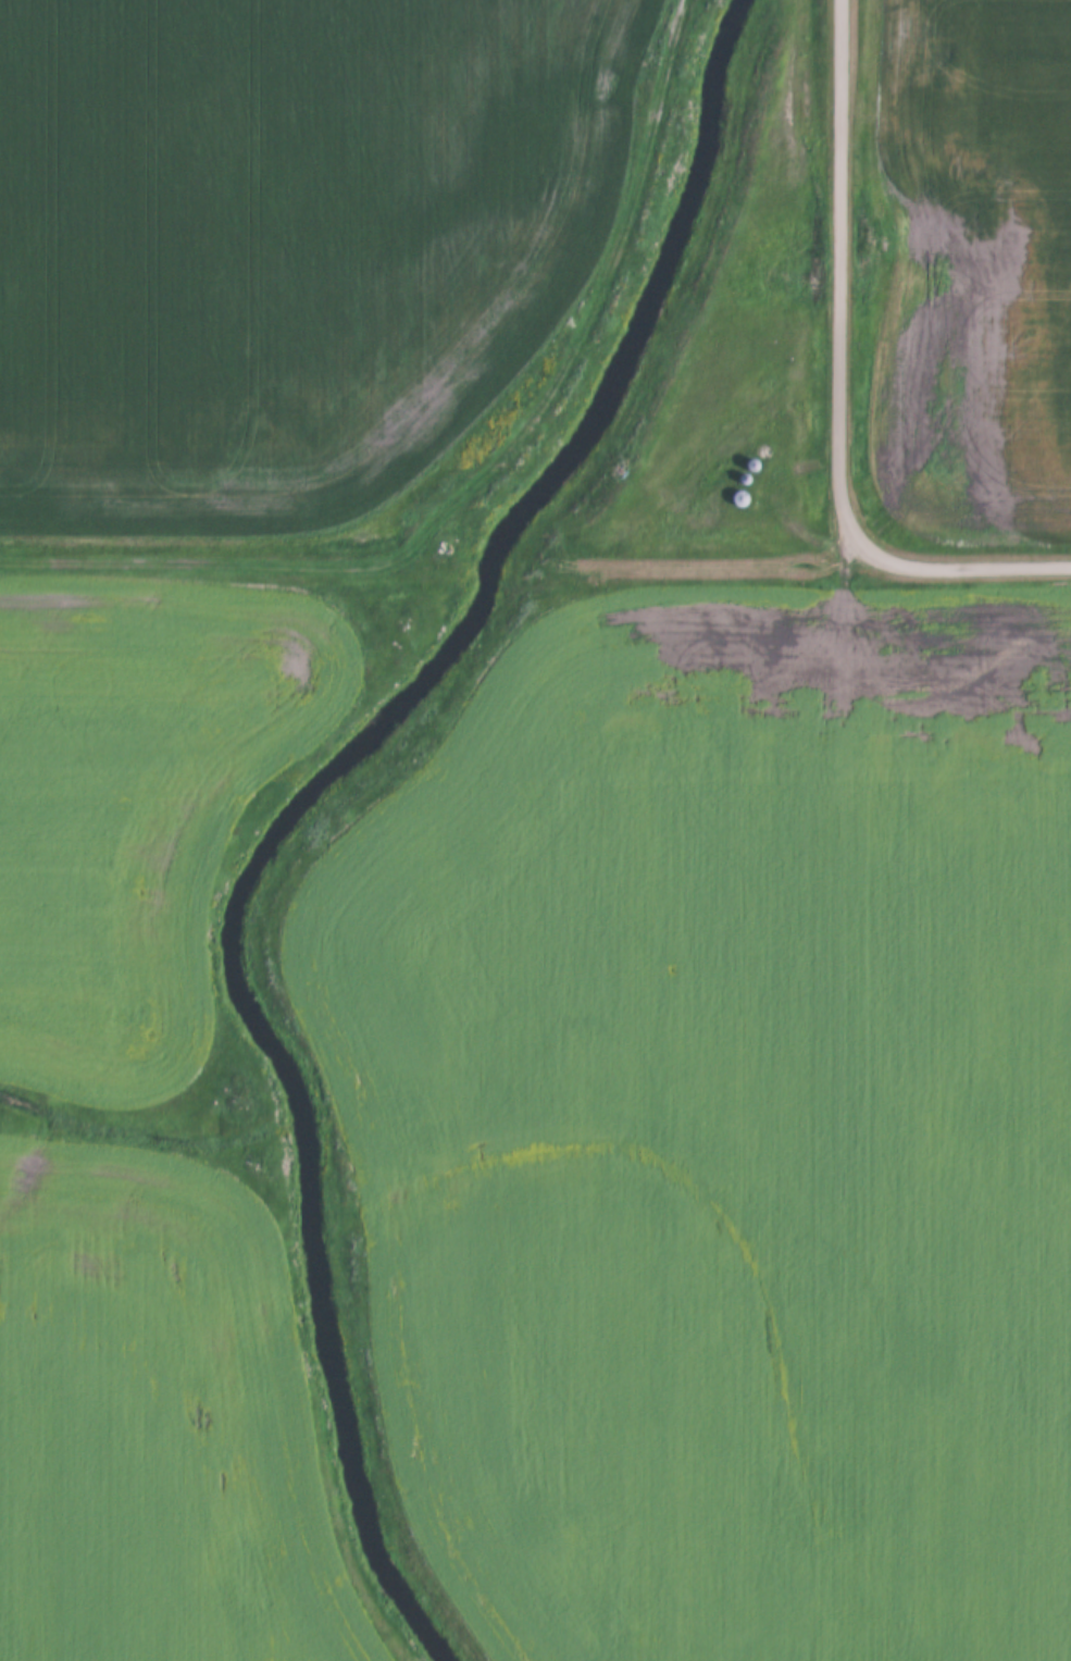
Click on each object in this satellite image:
road: (840, 276)
road: (600, 298)
road: (211, 562)
road: (966, 562)

